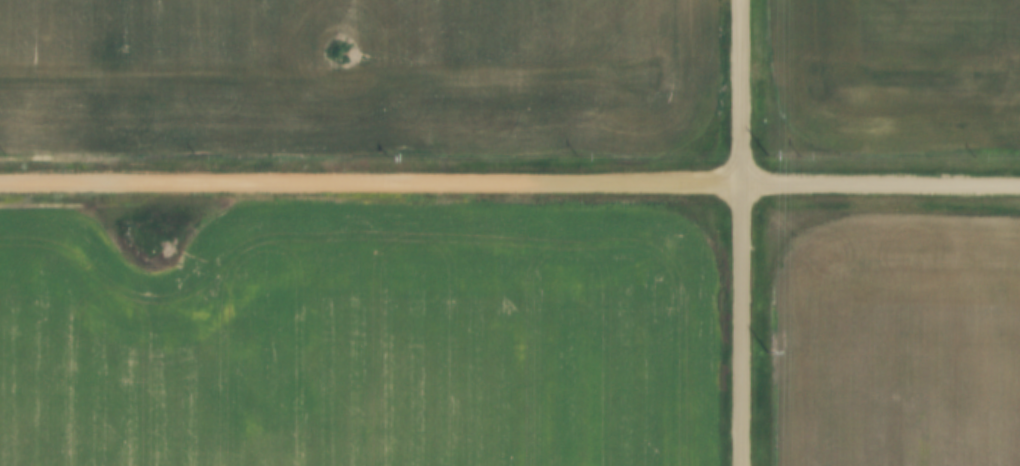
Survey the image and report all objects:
road: (509, 182)
road: (740, 233)

